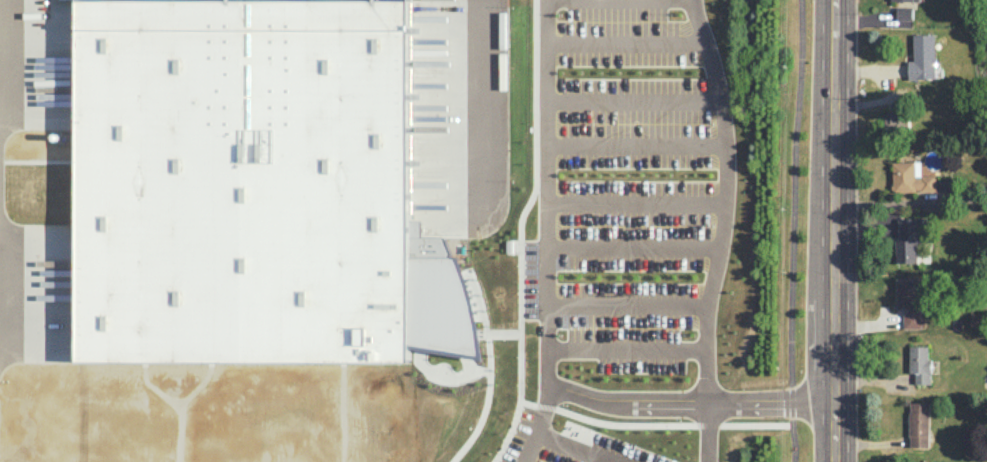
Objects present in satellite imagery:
building: (901, 0)
building: (904, 12)
road: (460, 31)
road: (608, 37)
road: (416, 48)
building: (923, 56)
road: (533, 92)
road: (603, 95)
road: (487, 101)
building: (897, 120)
road: (613, 142)
parking lot: (258, 173)
building: (910, 177)
building: (243, 180)
road: (608, 198)
road: (725, 198)
road: (836, 230)
road: (794, 231)
building: (909, 237)
road: (609, 245)
building: (909, 300)
road: (597, 304)
road: (604, 347)
building: (919, 363)
road: (691, 400)
road: (175, 407)
road: (342, 412)
road: (536, 423)
building: (918, 424)
road: (707, 431)
road: (580, 445)
building: (433, 449)

